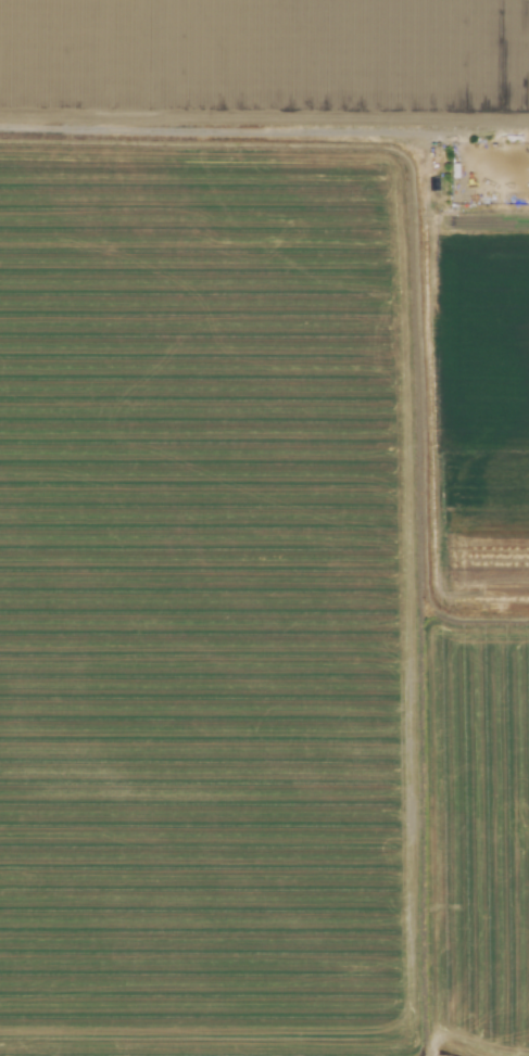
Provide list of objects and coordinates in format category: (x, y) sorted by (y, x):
road: (264, 129)

